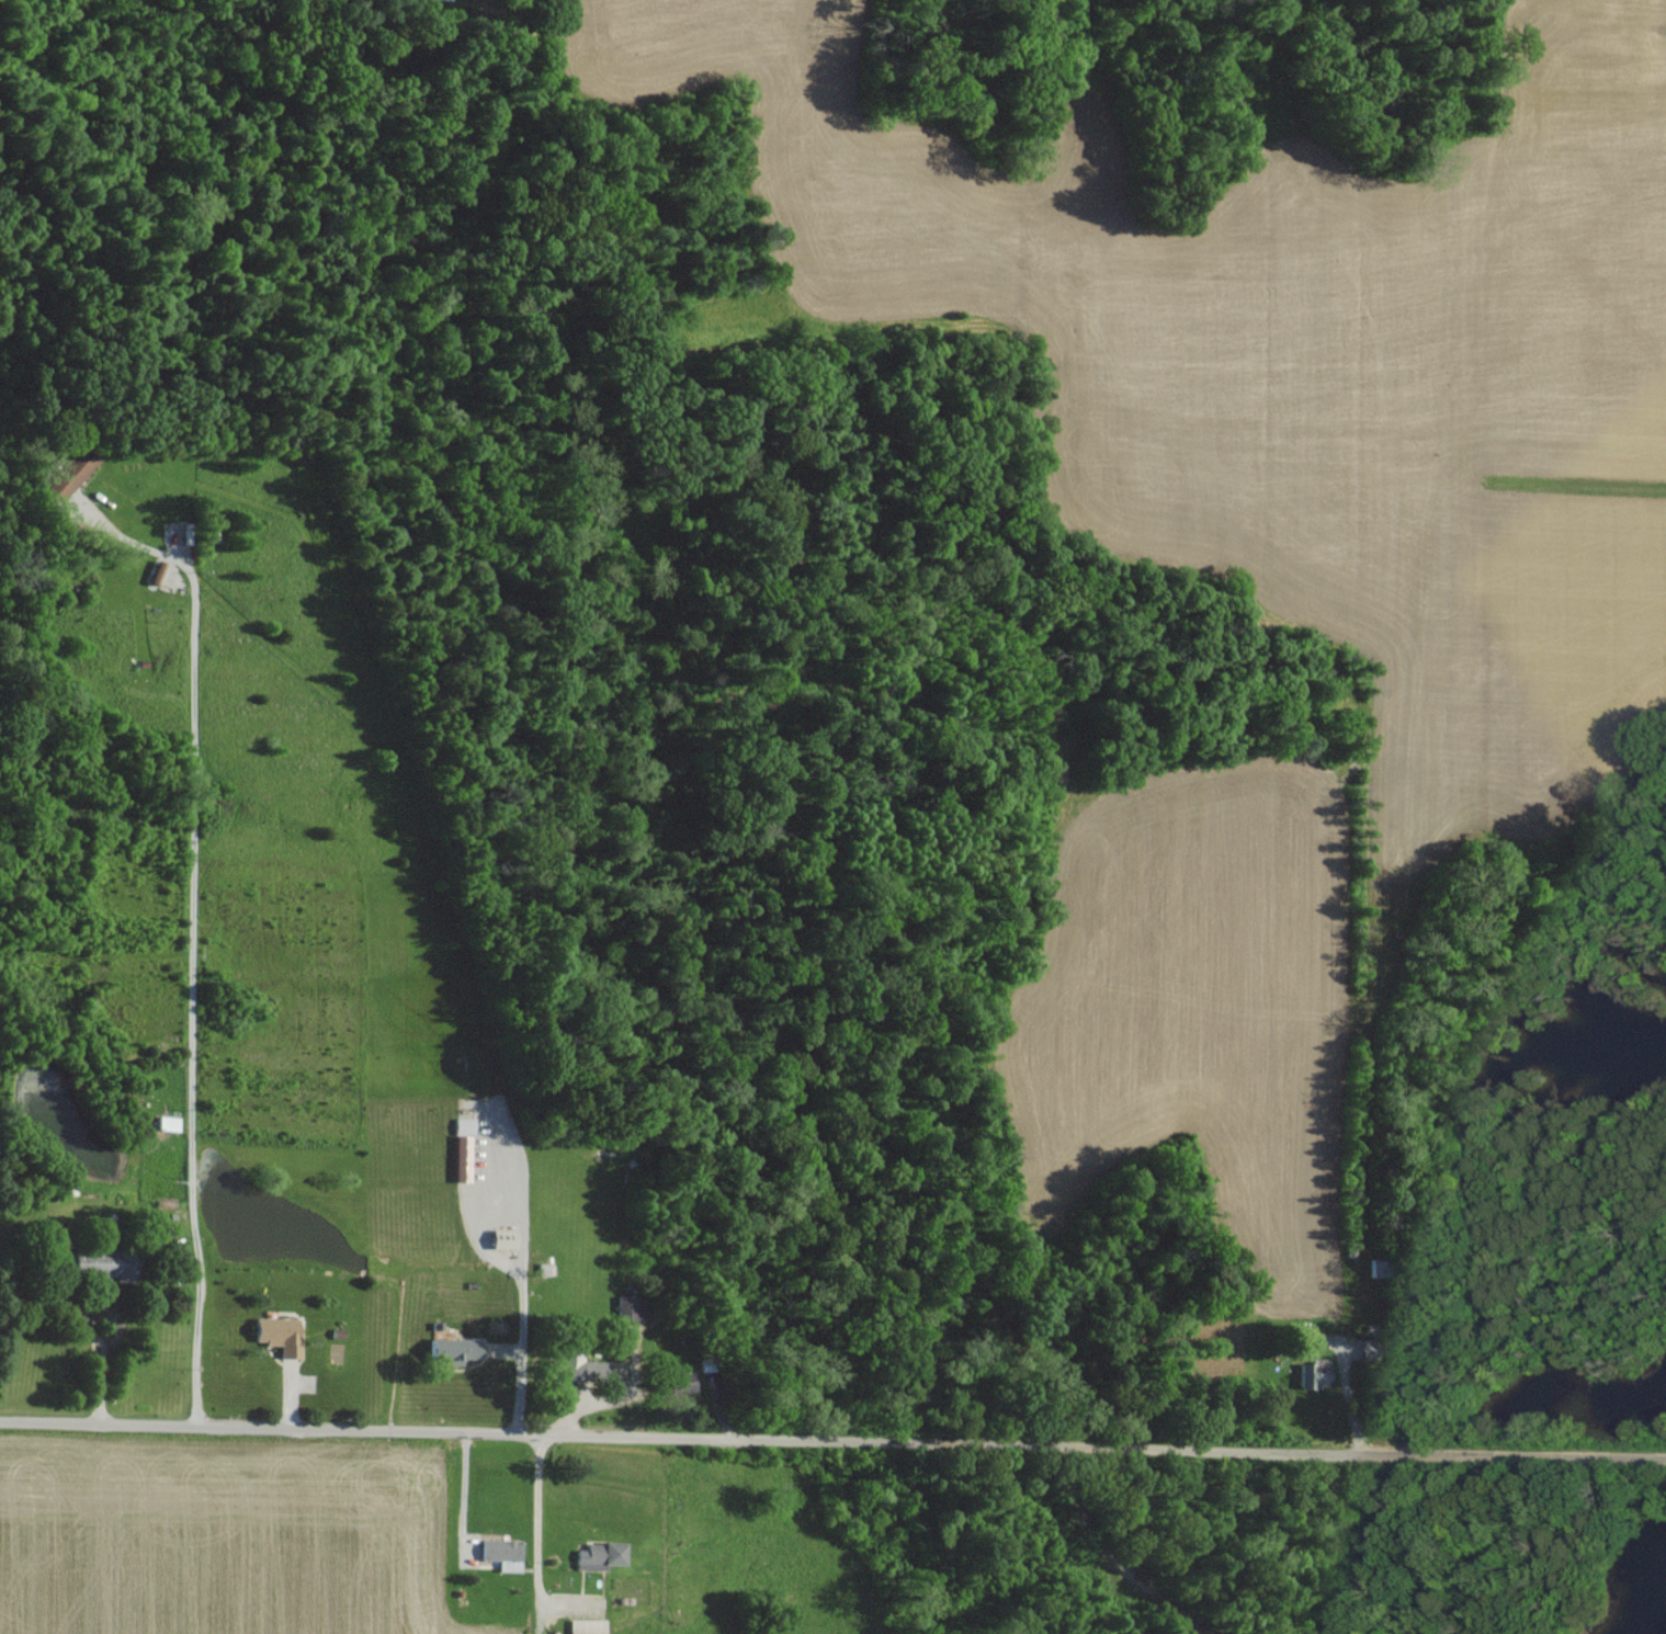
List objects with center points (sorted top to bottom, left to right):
building: (64, 475)
road: (189, 927)
building: (456, 1156)
building: (93, 1260)
road: (525, 1303)
road: (91, 1307)
building: (272, 1332)
building: (449, 1349)
building: (570, 1365)
building: (1308, 1372)
road: (103, 1380)
road: (832, 1450)
road: (535, 1545)
building: (497, 1552)
building: (598, 1554)
building: (581, 1625)

